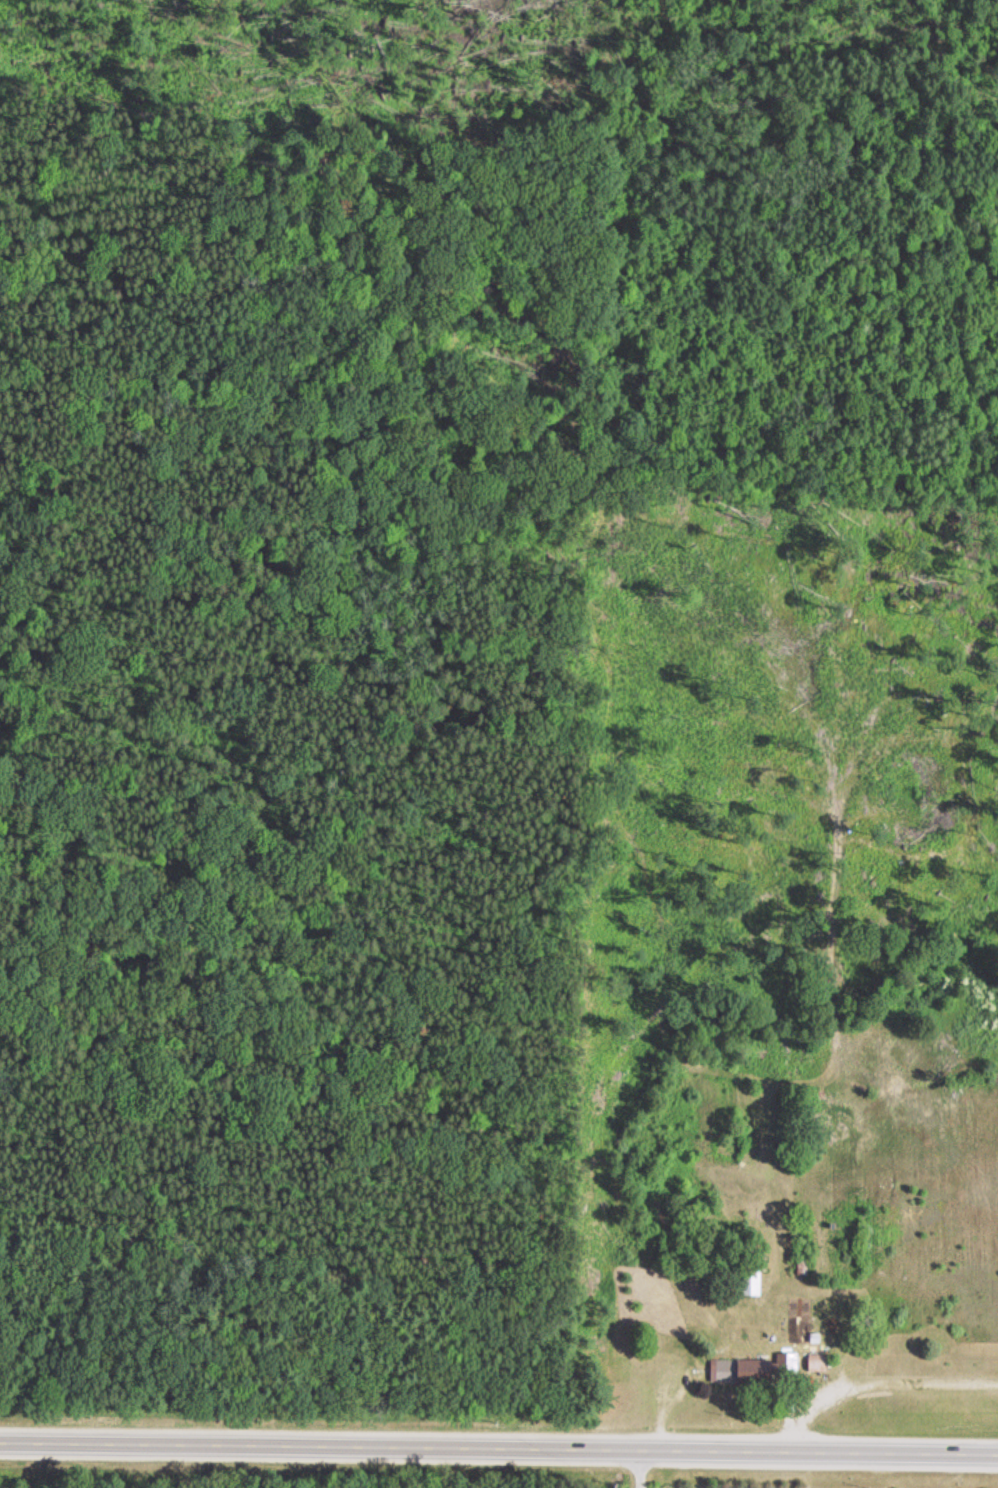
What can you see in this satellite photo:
building: (753, 1283)
building: (820, 1362)
building: (726, 1369)
building: (771, 1371)
road: (867, 1377)
road: (498, 1446)

